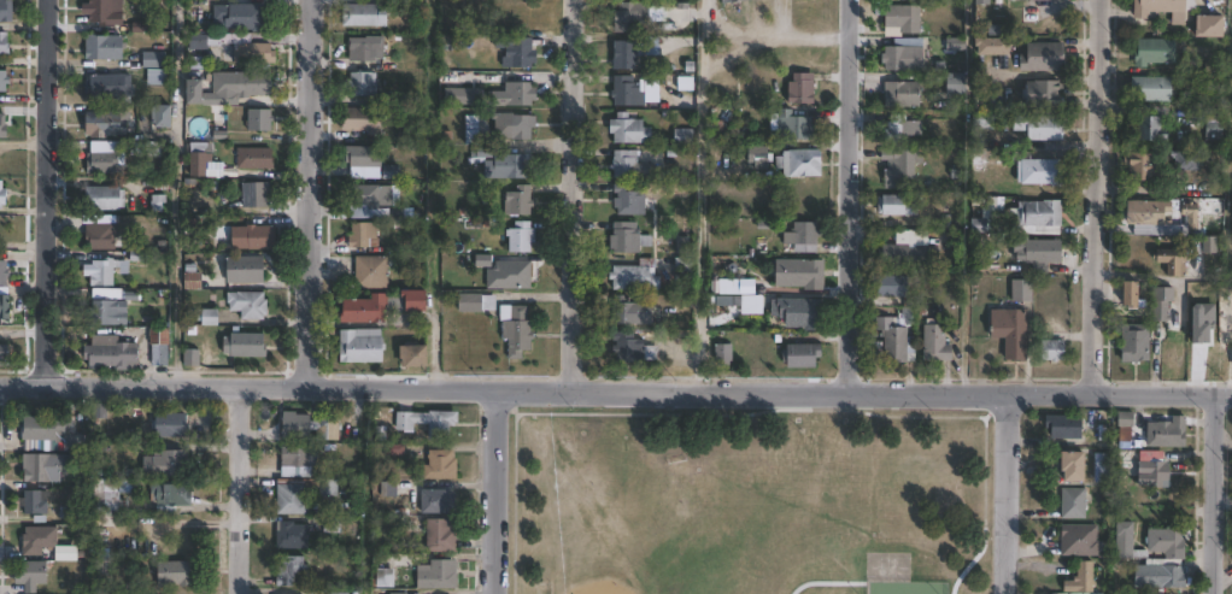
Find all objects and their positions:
building: (952, 0)
building: (1021, 0)
building: (732, 1)
building: (979, 2)
building: (1158, 7)
building: (7, 11)
building: (118, 13)
building: (362, 14)
building: (250, 16)
building: (1027, 16)
building: (633, 17)
building: (899, 18)
building: (1205, 28)
building: (200, 40)
building: (5, 43)
building: (107, 47)
building: (364, 47)
building: (988, 47)
building: (247, 48)
building: (1151, 52)
building: (520, 53)
building: (623, 54)
building: (900, 55)
building: (1039, 58)
building: (156, 60)
building: (160, 77)
building: (5, 81)
building: (359, 83)
building: (248, 84)
building: (951, 84)
building: (112, 86)
building: (799, 88)
building: (1148, 89)
building: (198, 92)
building: (518, 92)
building: (626, 92)
building: (1039, 94)
building: (898, 95)
building: (460, 96)
building: (987, 102)
building: (165, 116)
building: (262, 119)
building: (981, 120)
building: (359, 122)
building: (108, 123)
building: (790, 124)
building: (1213, 125)
building: (508, 127)
building: (470, 128)
building: (1036, 128)
building: (626, 129)
building: (893, 129)
building: (1145, 130)
building: (686, 137)
building: (480, 153)
building: (757, 155)
building: (360, 157)
building: (257, 158)
building: (976, 158)
building: (107, 159)
building: (205, 160)
building: (798, 161)
building: (1180, 161)
building: (626, 165)
building: (505, 166)
building: (897, 167)
building: (1140, 167)
building: (1036, 171)
road: (42, 194)
building: (258, 194)
road: (305, 194)
building: (4, 195)
road: (569, 195)
road: (843, 195)
road: (1091, 196)
building: (106, 198)
building: (624, 200)
building: (369, 201)
building: (516, 201)
building: (893, 206)
building: (1145, 211)
building: (986, 213)
building: (1037, 217)
building: (1189, 217)
building: (360, 234)
building: (101, 235)
building: (799, 236)
building: (256, 237)
building: (518, 237)
building: (624, 237)
building: (1208, 243)
building: (1033, 253)
building: (898, 254)
building: (1168, 259)
building: (686, 267)
building: (247, 269)
building: (110, 271)
building: (4, 272)
building: (368, 272)
building: (510, 272)
building: (798, 274)
building: (632, 276)
building: (194, 282)
building: (888, 287)
building: (1019, 290)
building: (1127, 292)
building: (1162, 293)
building: (108, 294)
building: (474, 300)
building: (250, 304)
building: (745, 304)
building: (5, 307)
building: (382, 307)
building: (1157, 310)
building: (627, 311)
building: (800, 312)
building: (111, 313)
building: (512, 328)
building: (1007, 330)
building: (892, 339)
building: (1132, 342)
building: (247, 345)
building: (358, 346)
building: (933, 346)
building: (628, 348)
building: (1050, 348)
building: (113, 352)
building: (726, 353)
building: (5, 354)
building: (162, 354)
building: (798, 354)
building: (411, 355)
road: (615, 390)
road: (755, 412)
building: (428, 422)
building: (172, 425)
building: (1061, 425)
building: (310, 427)
building: (1124, 429)
building: (1163, 431)
building: (51, 435)
building: (298, 463)
building: (1068, 464)
building: (168, 465)
building: (441, 465)
building: (46, 466)
building: (1101, 466)
building: (1149, 467)
building: (328, 488)
road: (235, 490)
road: (495, 492)
road: (1004, 493)
road: (1214, 493)
building: (172, 496)
building: (107, 499)
building: (292, 500)
park: (747, 500)
building: (36, 502)
building: (439, 502)
building: (1070, 502)
building: (332, 525)
building: (292, 536)
building: (441, 536)
building: (40, 540)
building: (1148, 541)
building: (1231, 561)
building: (105, 566)
park: (887, 566)
building: (292, 572)
building: (1157, 572)
building: (174, 574)
building: (34, 575)
building: (438, 576)
building: (383, 578)
building: (1078, 578)
park: (904, 587)
park: (594, 588)
building: (336, 592)
building: (1092, 593)

